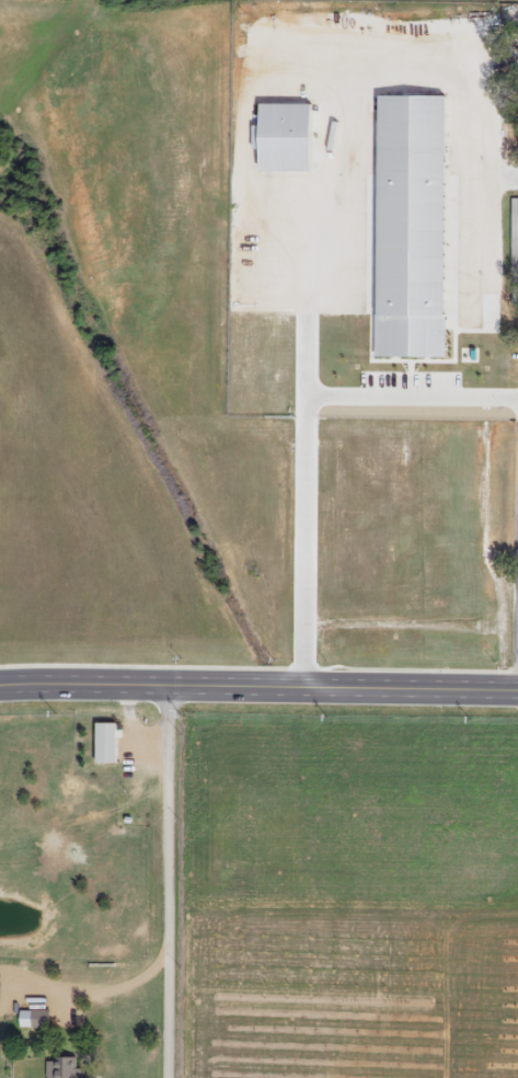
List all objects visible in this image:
building: (514, 226)
road: (411, 394)
road: (302, 539)
road: (258, 685)
building: (103, 742)
road: (174, 881)
building: (33, 1019)
building: (61, 1067)

